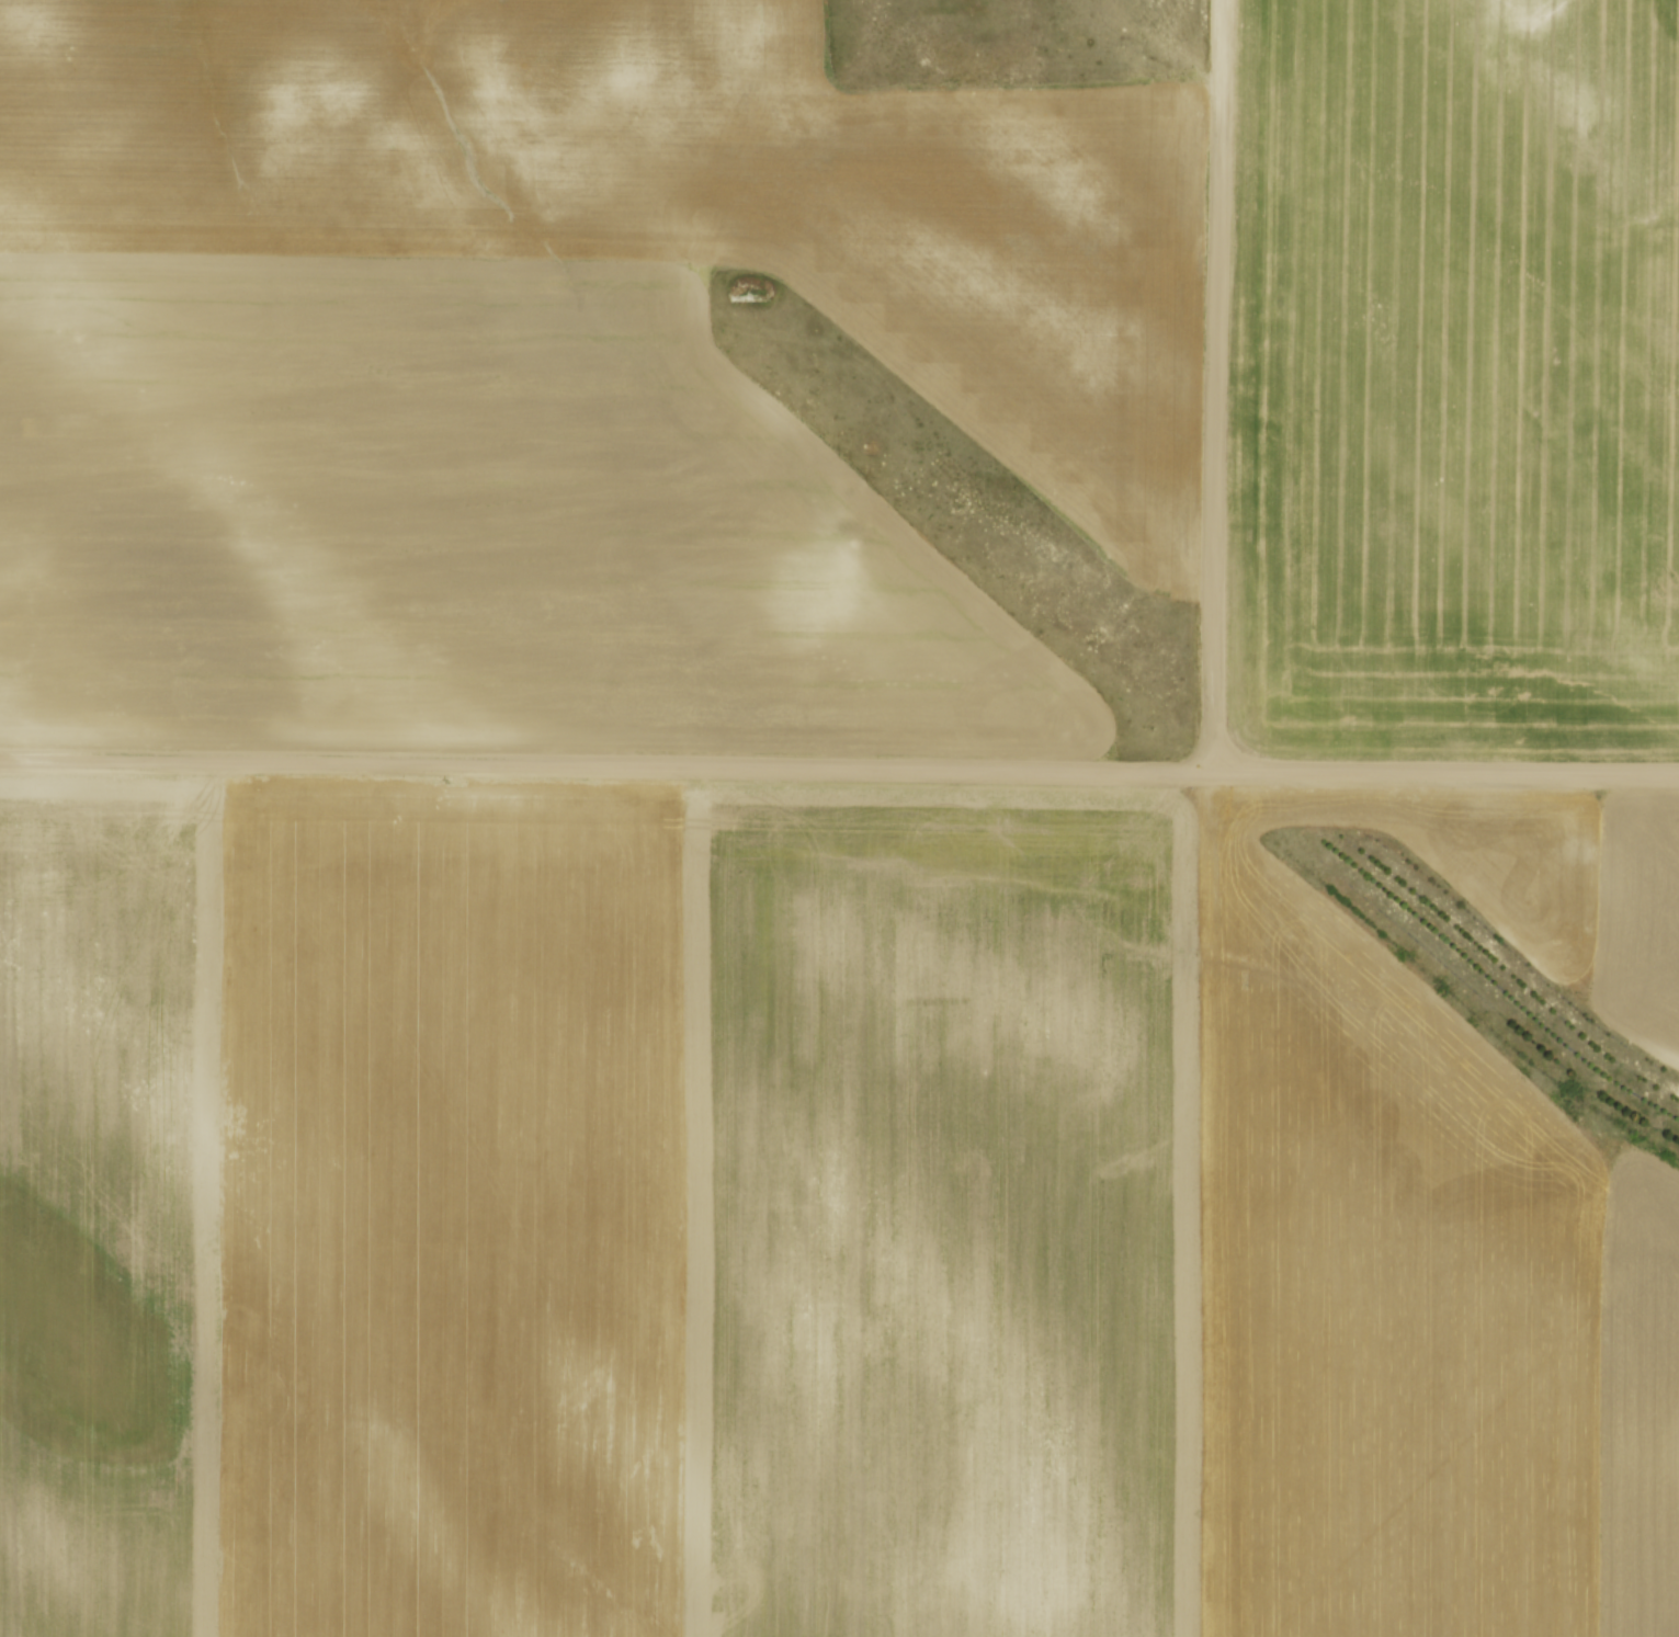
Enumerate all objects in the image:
crop: (551, 375)
crop: (1456, 379)
road: (1221, 386)
road: (839, 768)

